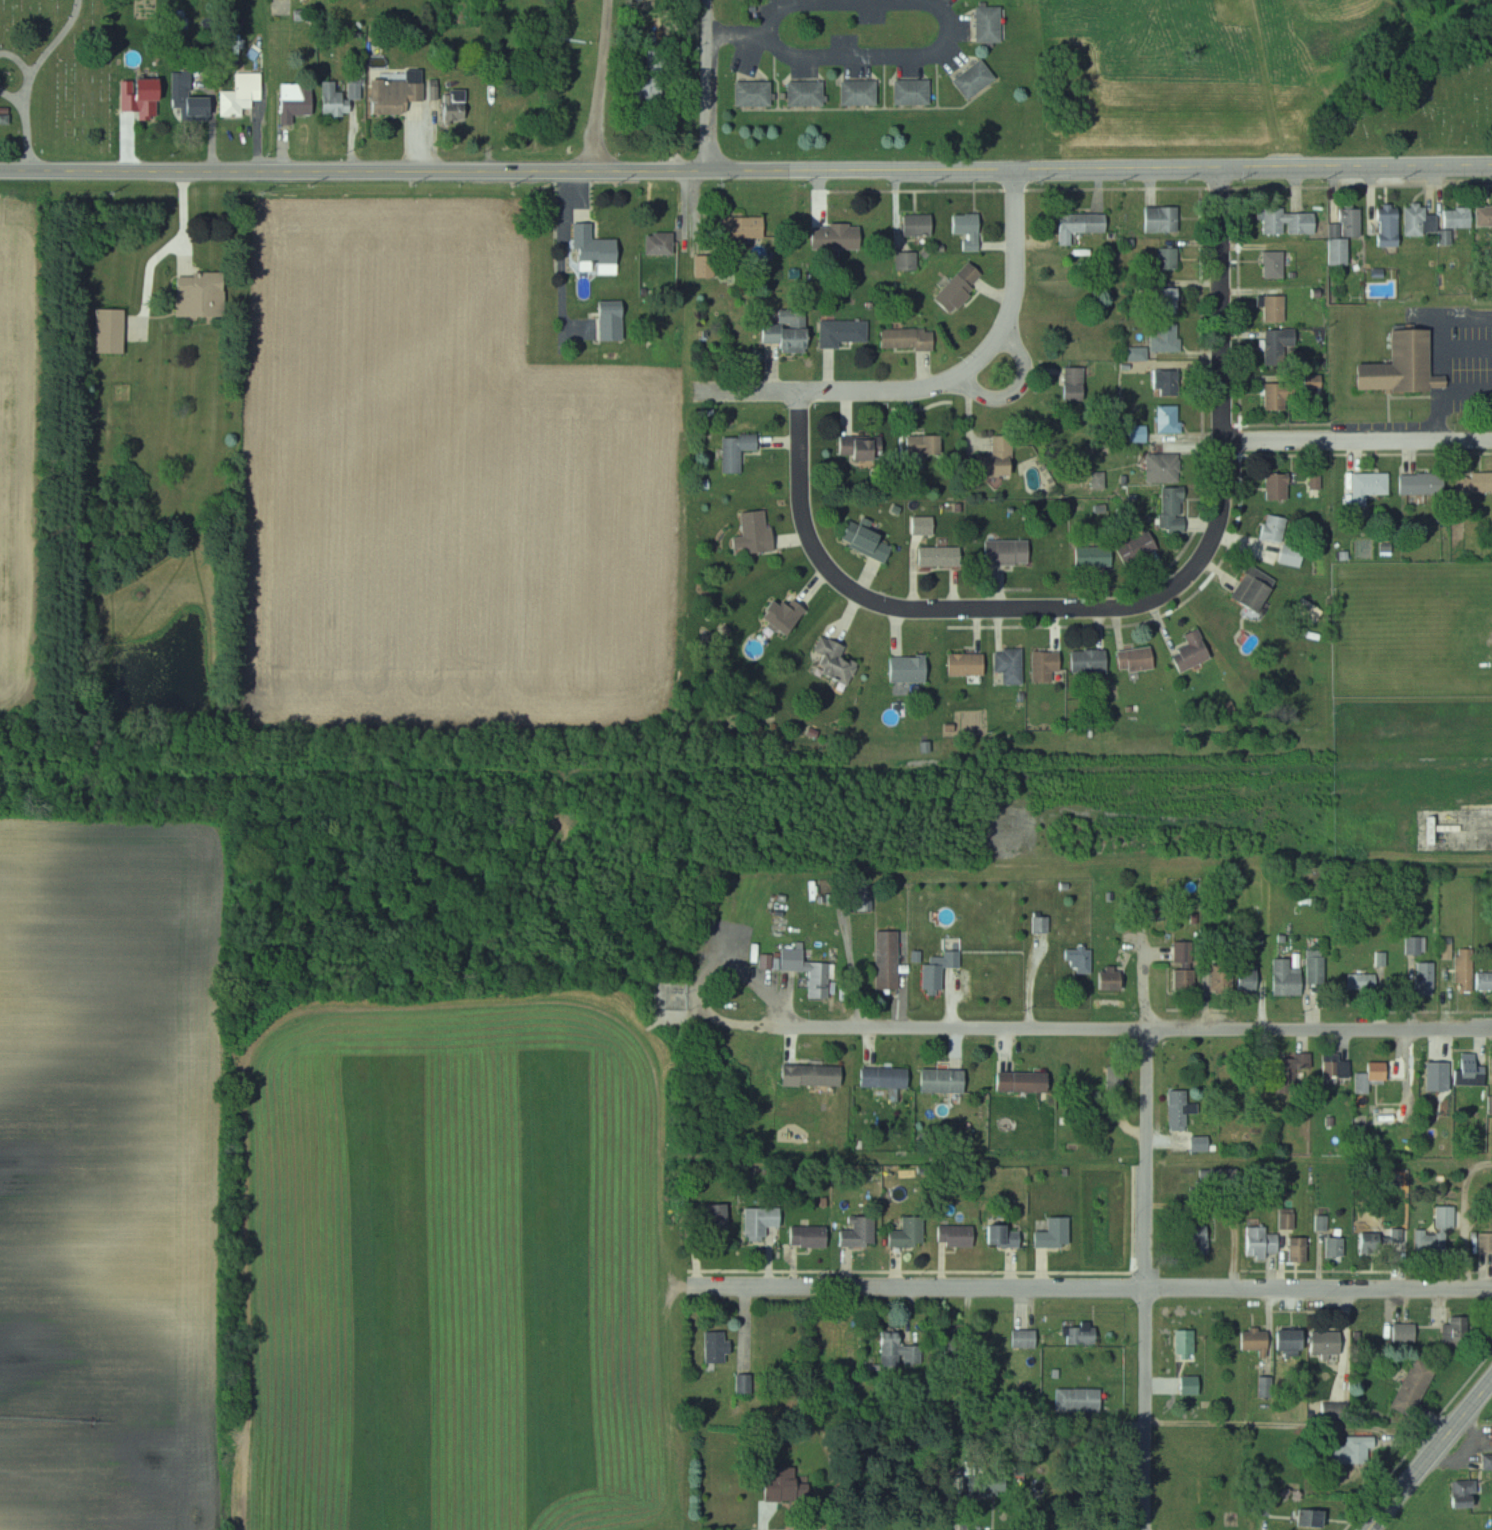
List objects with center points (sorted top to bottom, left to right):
road: (818, 1)
road: (949, 14)
road: (709, 17)
building: (992, 25)
road: (739, 34)
road: (867, 53)
park: (65, 79)
building: (978, 80)
road: (603, 85)
building: (915, 92)
building: (862, 93)
building: (195, 94)
building: (244, 94)
building: (808, 94)
building: (401, 95)
building: (756, 95)
building: (152, 97)
building: (335, 100)
building: (298, 101)
park: (1452, 101)
road: (711, 103)
building: (458, 105)
road: (746, 170)
road: (186, 215)
building: (1469, 217)
building: (1164, 219)
building: (1423, 221)
building: (1292, 222)
building: (1083, 225)
building: (1391, 225)
building: (745, 227)
building: (974, 232)
building: (847, 235)
building: (1347, 235)
road: (170, 241)
building: (662, 243)
building: (599, 249)
road: (153, 251)
road: (562, 253)
building: (1170, 258)
building: (1277, 264)
building: (708, 266)
building: (962, 286)
building: (203, 294)
building: (1171, 300)
building: (1276, 307)
building: (614, 322)
building: (113, 330)
building: (792, 331)
building: (846, 333)
building: (1169, 337)
building: (910, 338)
building: (1283, 346)
building: (1408, 365)
building: (1171, 381)
building: (1077, 383)
road: (942, 384)
road: (1018, 389)
road: (1446, 394)
building: (1281, 395)
building: (1171, 418)
road: (1358, 440)
building: (927, 444)
building: (863, 447)
building: (739, 451)
building: (1003, 457)
building: (1165, 467)
building: (1424, 482)
building: (1475, 483)
building: (1280, 485)
building: (1371, 485)
building: (1175, 510)
building: (926, 524)
building: (760, 532)
building: (1286, 538)
building: (873, 543)
building: (1142, 549)
building: (1011, 552)
building: (1096, 555)
building: (942, 556)
building: (1261, 593)
road: (1125, 607)
building: (1195, 652)
building: (1146, 658)
building: (1092, 660)
building: (835, 662)
building: (970, 664)
building: (1049, 664)
building: (1012, 665)
building: (912, 669)
building: (1043, 924)
building: (1418, 945)
road: (1145, 947)
building: (1186, 952)
building: (800, 958)
building: (1081, 959)
building: (890, 960)
building: (1319, 965)
building: (942, 969)
building: (1467, 970)
road: (711, 975)
building: (1237, 975)
building: (1188, 978)
building: (1290, 978)
building: (1428, 979)
building: (1486, 981)
building: (1359, 982)
road: (808, 1028)
road: (1169, 1030)
building: (1474, 1068)
building: (1338, 1069)
building: (1294, 1070)
building: (816, 1075)
building: (1375, 1076)
building: (888, 1077)
building: (1117, 1077)
building: (1437, 1080)
building: (947, 1081)
building: (1027, 1082)
road: (1408, 1101)
building: (1491, 1106)
building: (1180, 1111)
building: (1388, 1116)
building: (1203, 1145)
road: (1320, 1167)
building: (1449, 1217)
building: (719, 1220)
building: (763, 1221)
road: (1466, 1229)
building: (1062, 1232)
building: (862, 1233)
building: (911, 1233)
building: (811, 1236)
building: (1003, 1236)
building: (959, 1237)
building: (1202, 1238)
building: (1383, 1242)
building: (1264, 1243)
building: (1487, 1243)
building: (1339, 1247)
building: (1302, 1249)
road: (1146, 1279)
road: (1090, 1287)
building: (1460, 1330)
building: (1403, 1334)
building: (1082, 1335)
building: (1027, 1339)
building: (1293, 1339)
building: (1258, 1340)
building: (1332, 1342)
building: (1188, 1344)
building: (719, 1346)
building: (901, 1351)
building: (746, 1384)
building: (1419, 1384)
building: (1193, 1385)
building: (1269, 1387)
building: (1081, 1399)
road: (1300, 1426)
building: (1354, 1451)
road: (1430, 1456)
building: (787, 1484)
building: (1467, 1487)
building: (1315, 1518)

